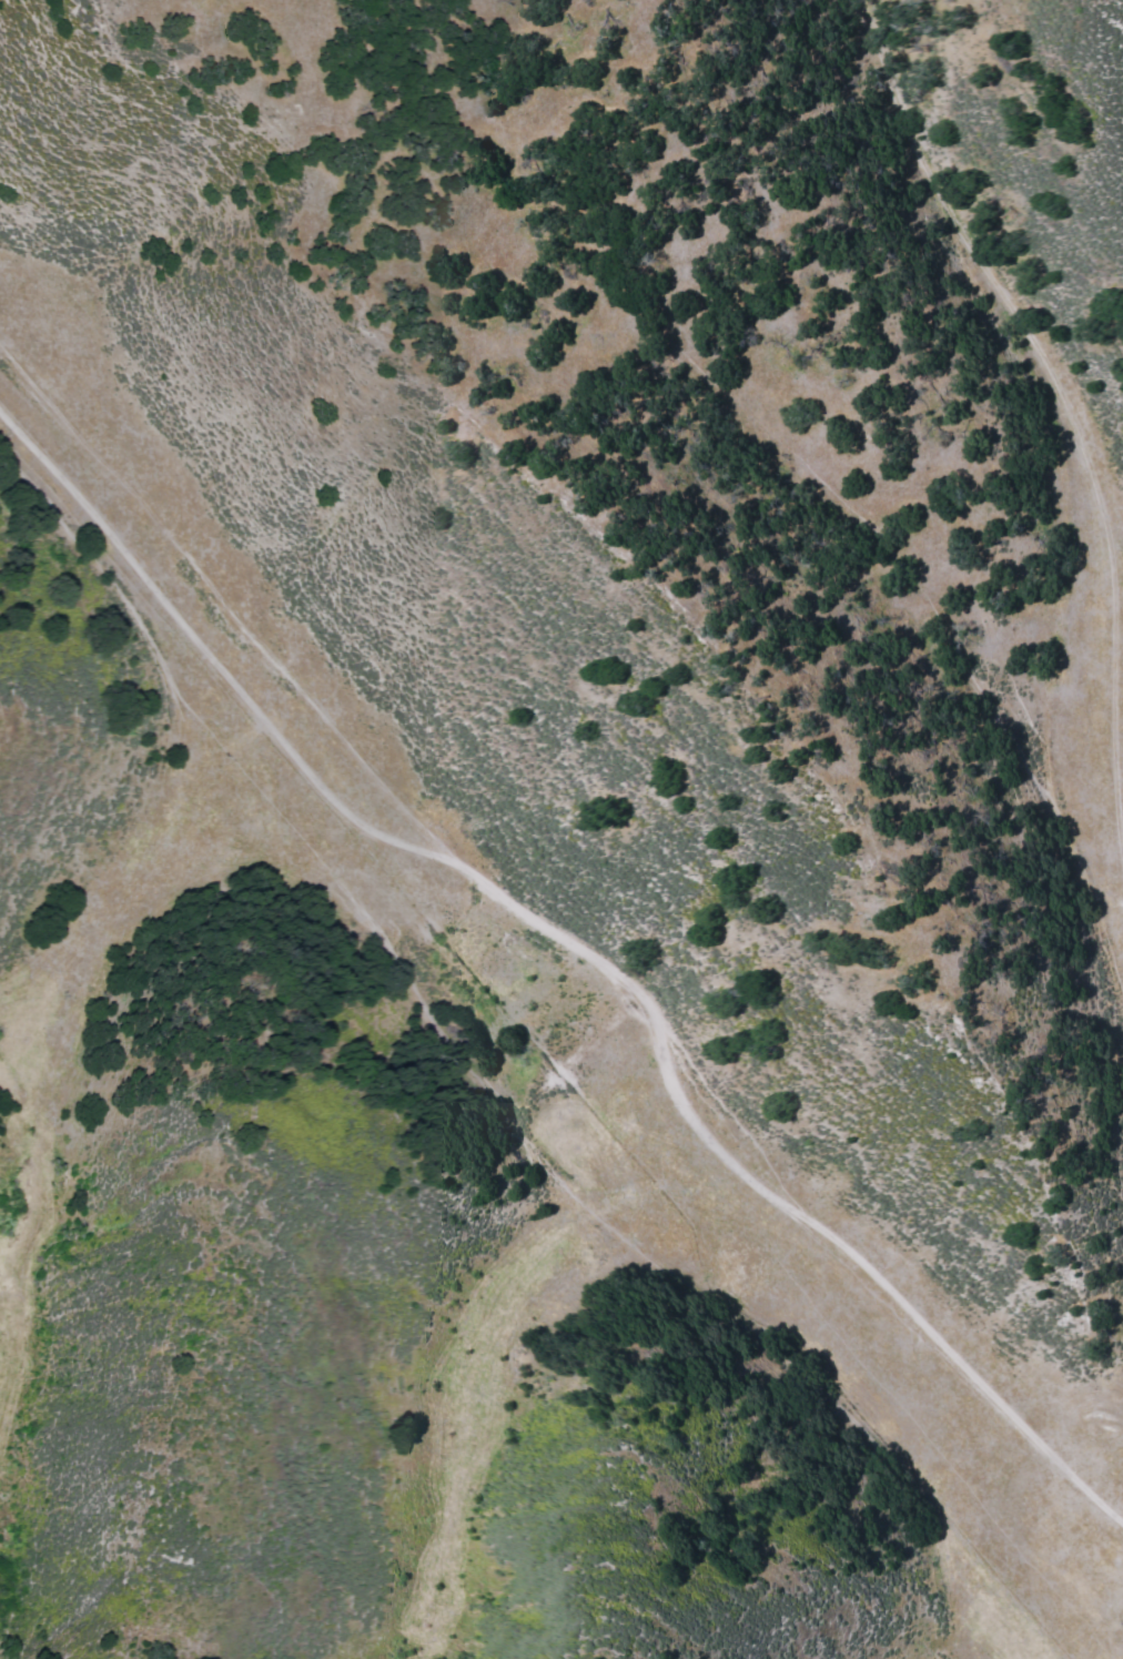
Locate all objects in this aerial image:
road: (581, 942)

